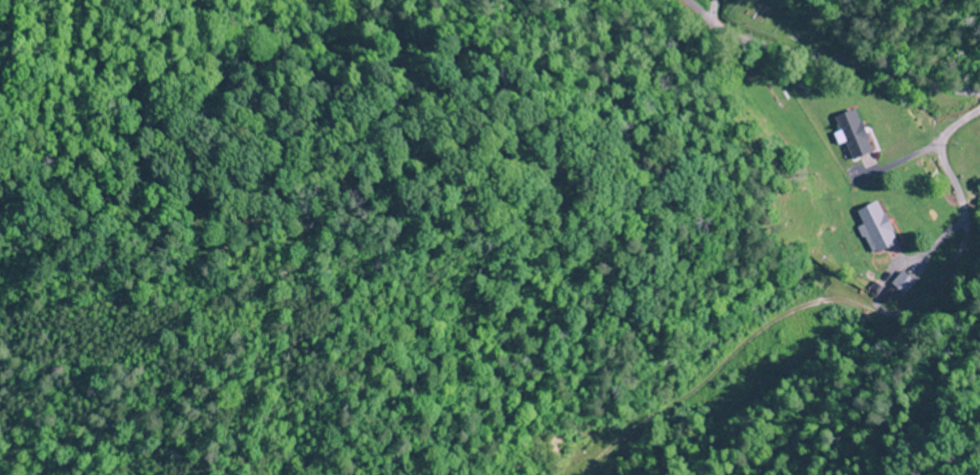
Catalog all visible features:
road: (822, 65)
building: (850, 141)
building: (873, 227)
road: (956, 245)
building: (899, 283)

